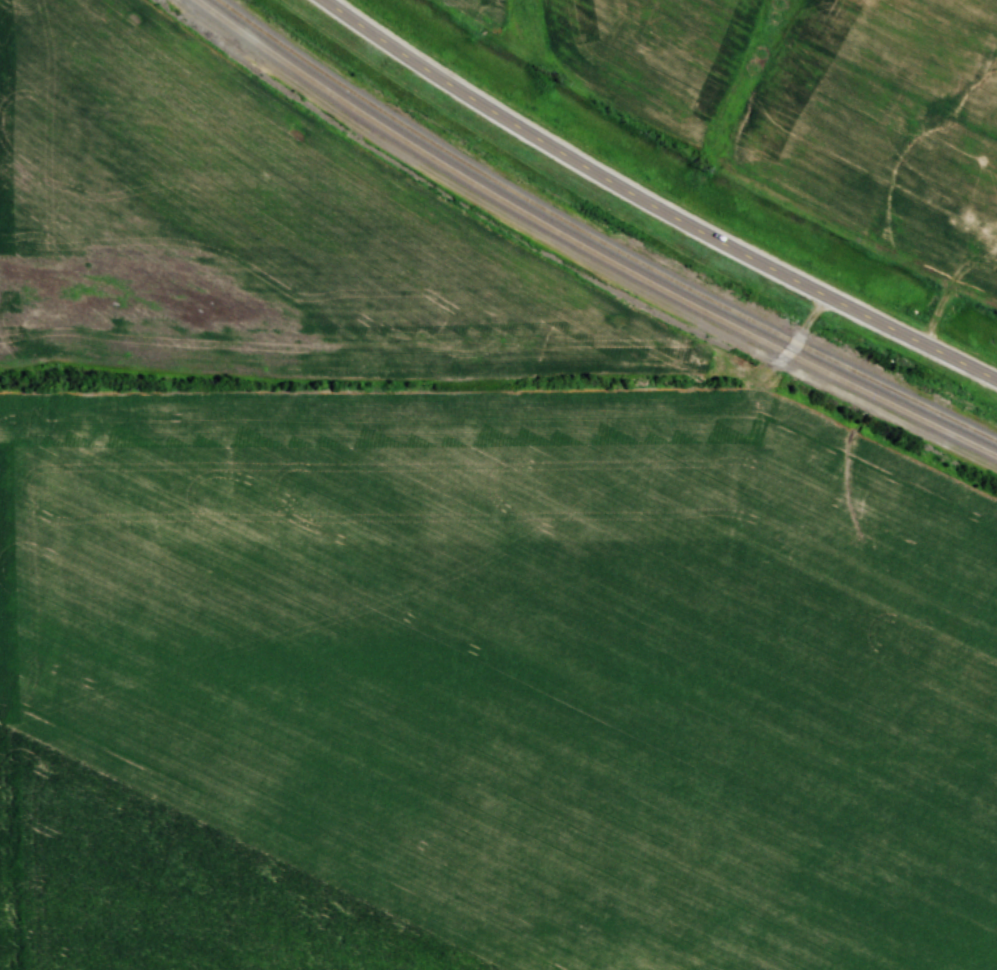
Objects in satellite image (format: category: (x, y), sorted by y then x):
road: (648, 208)
railway: (597, 239)
railway: (585, 246)

